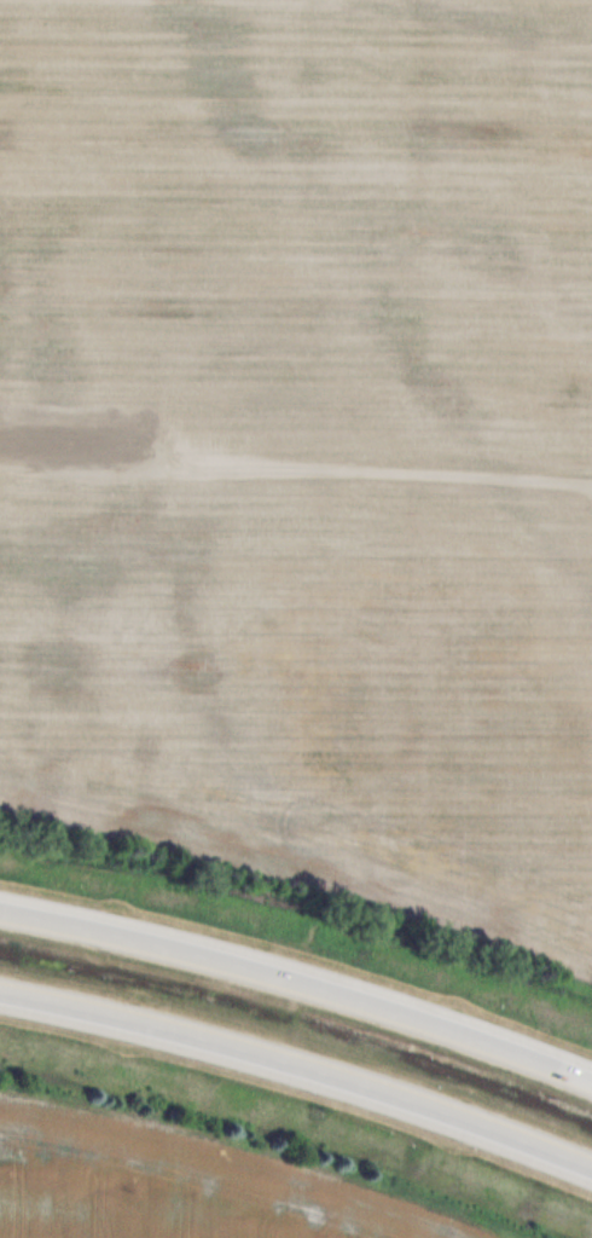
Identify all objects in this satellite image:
road: (300, 983)
road: (300, 1066)

